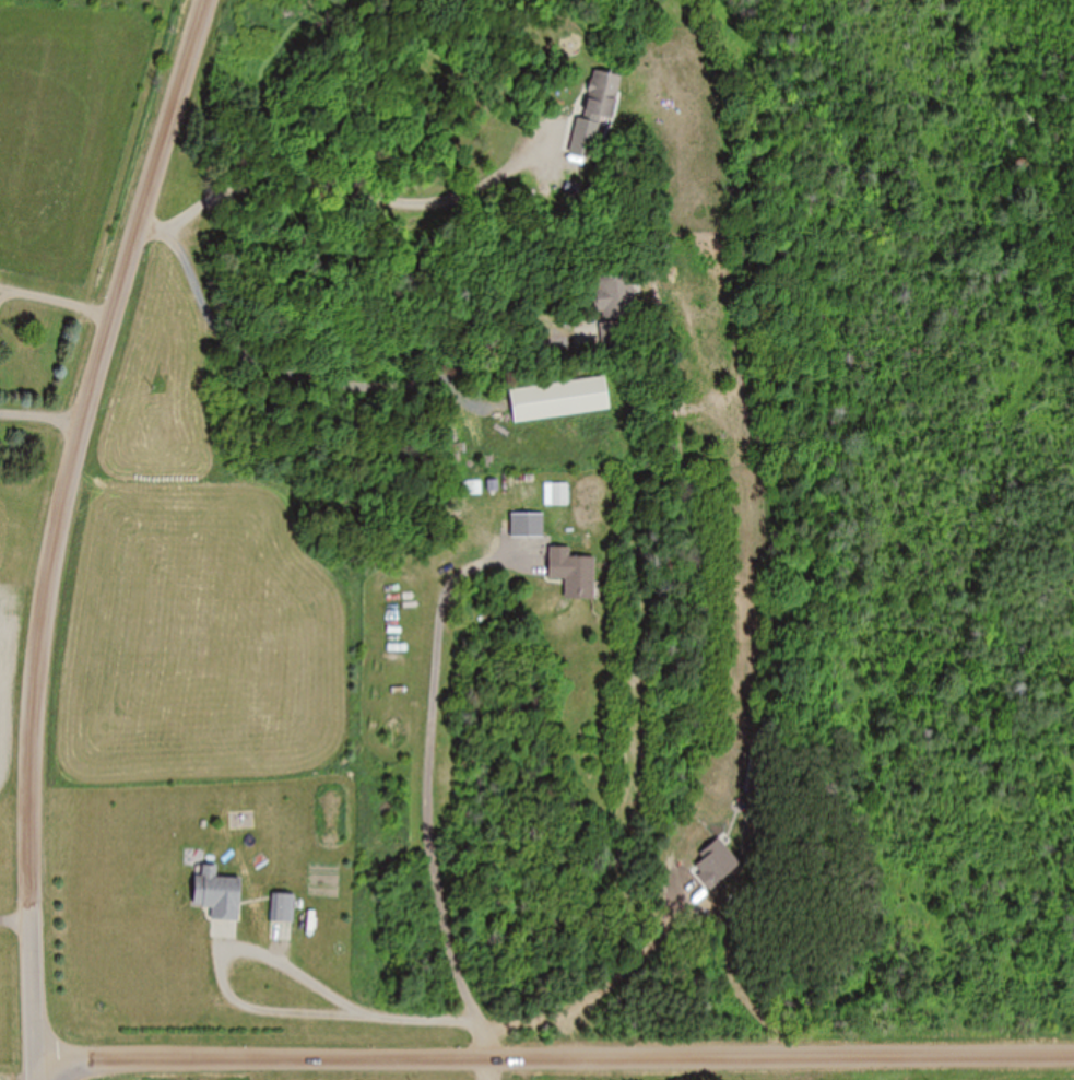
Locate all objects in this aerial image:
building: (600, 96)
building: (614, 298)
road: (55, 314)
building: (613, 338)
building: (558, 401)
road: (40, 425)
building: (527, 526)
road: (58, 531)
building: (571, 574)
building: (217, 895)
building: (283, 909)
road: (15, 918)
road: (556, 1064)
road: (392, 1072)
road: (406, 1072)

